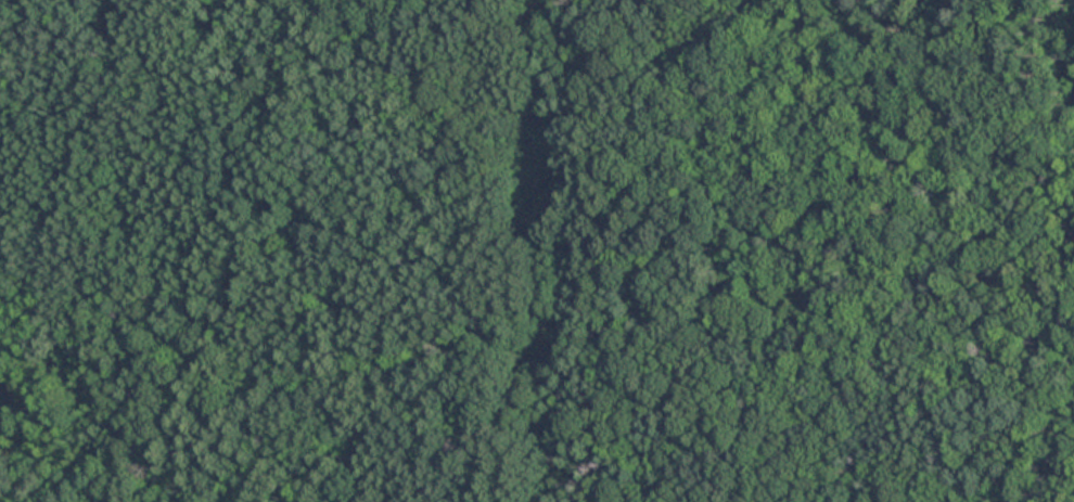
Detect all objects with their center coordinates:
park: (537, 250)

